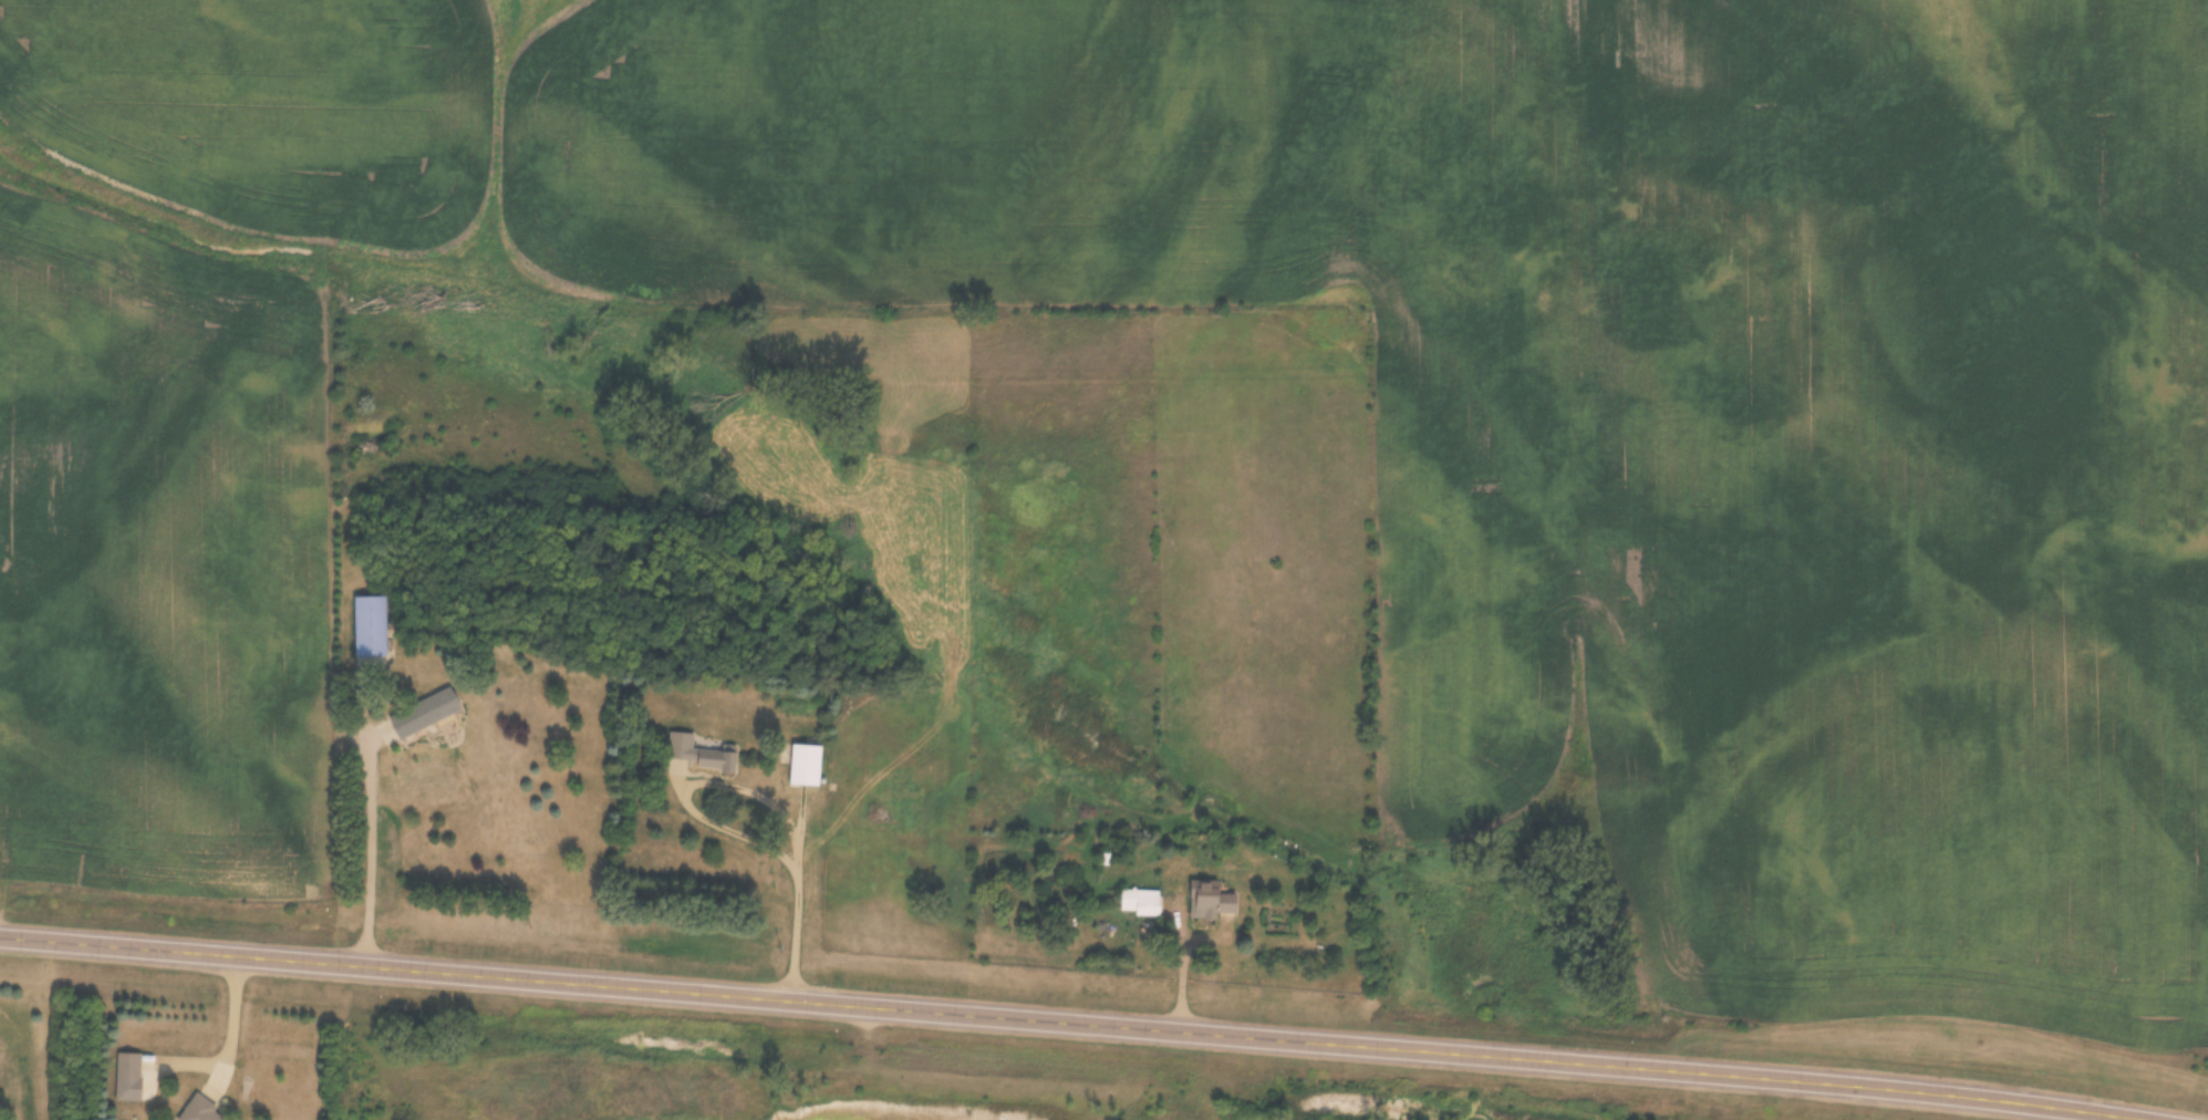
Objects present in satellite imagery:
building: (370, 632)
building: (426, 713)
building: (699, 755)
building: (806, 766)
road: (755, 795)
road: (372, 813)
building: (906, 821)
building: (1211, 902)
building: (1140, 903)
road: (184, 952)
road: (232, 1028)
road: (1261, 1036)
building: (132, 1072)
building: (201, 1111)

